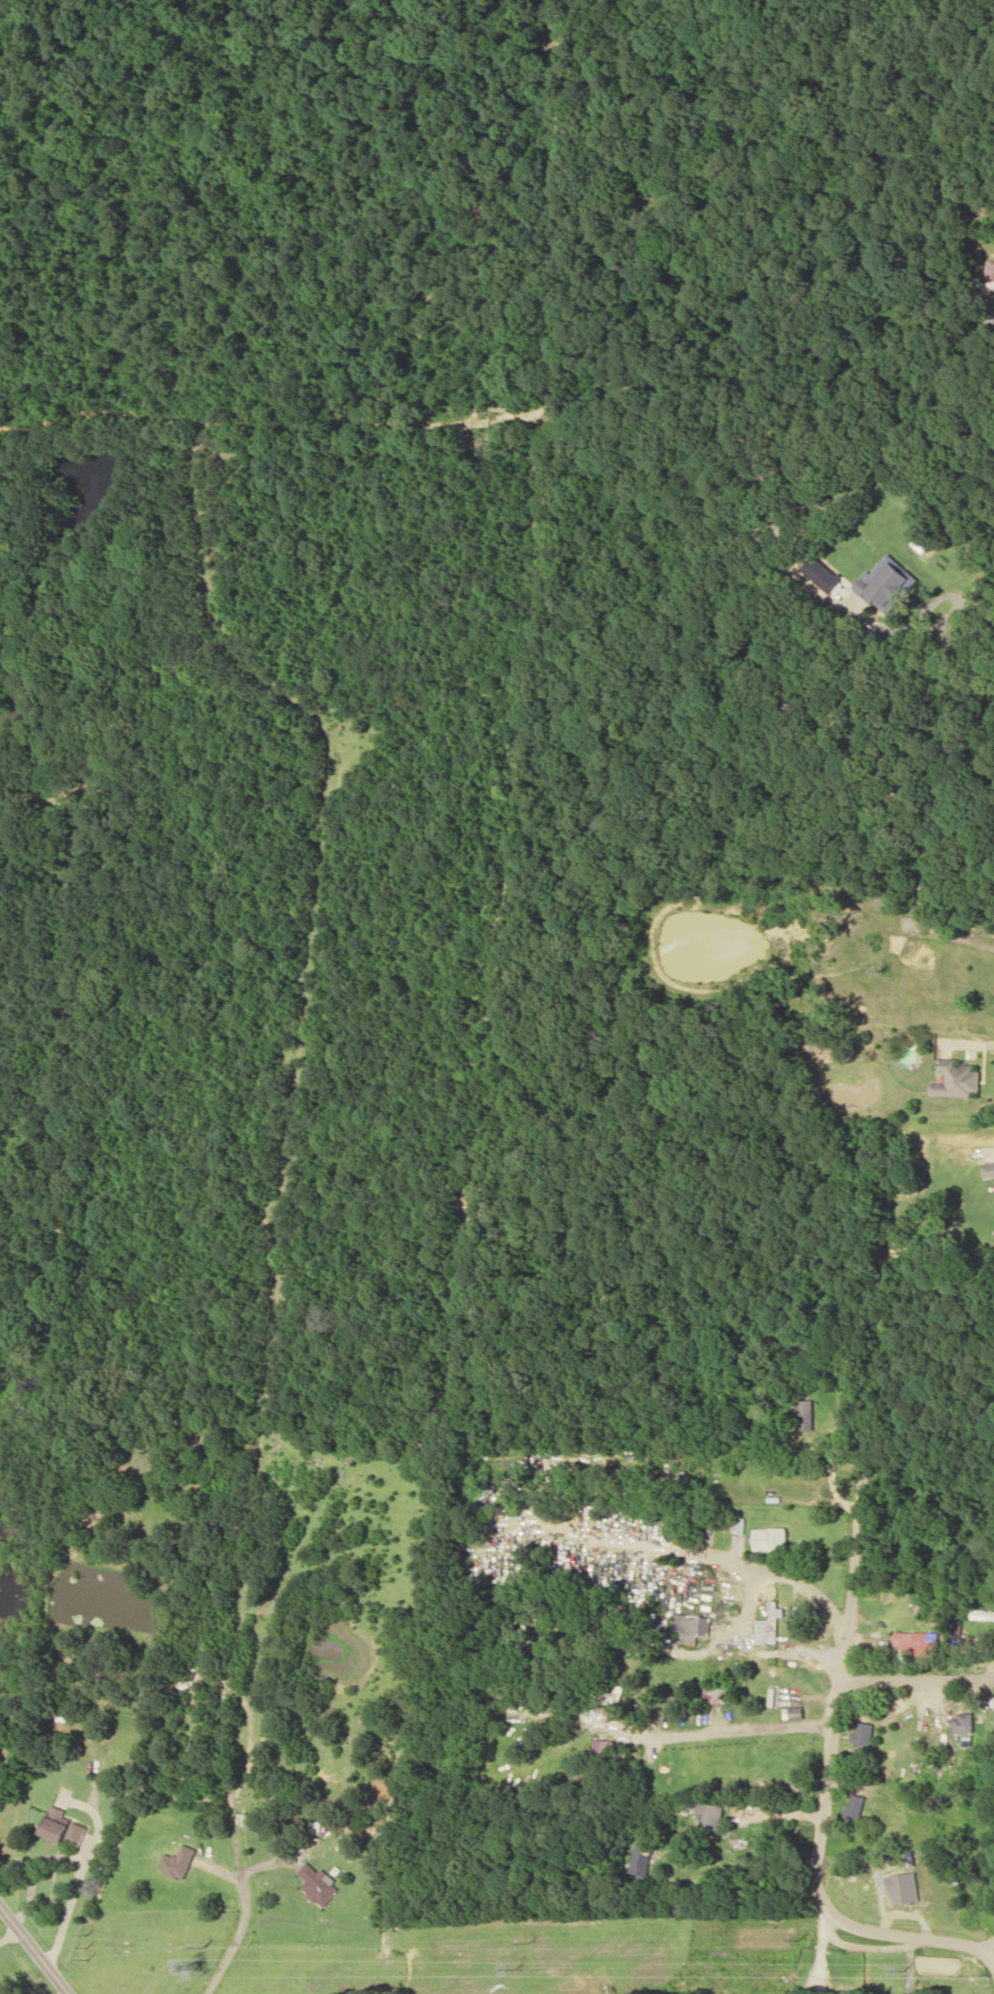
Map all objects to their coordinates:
building: (990, 270)
building: (886, 583)
building: (956, 1077)
building: (989, 1169)
building: (804, 1414)
road: (666, 1466)
building: (770, 1538)
building: (769, 1624)
building: (689, 1626)
building: (917, 1640)
road: (916, 1676)
building: (715, 1691)
building: (962, 1722)
road: (733, 1731)
building: (862, 1734)
road: (833, 1736)
building: (605, 1745)
building: (710, 1815)
building: (62, 1826)
building: (642, 1857)
building: (177, 1861)
building: (318, 1883)
building: (903, 1887)
power tower: (800, 1940)
power tower: (528, 1942)
power tower: (86, 1944)
road: (988, 1945)
power tower: (204, 1946)
road: (35, 1948)
power tower: (191, 1967)
power tower: (511, 1968)
power tower: (901, 1970)

